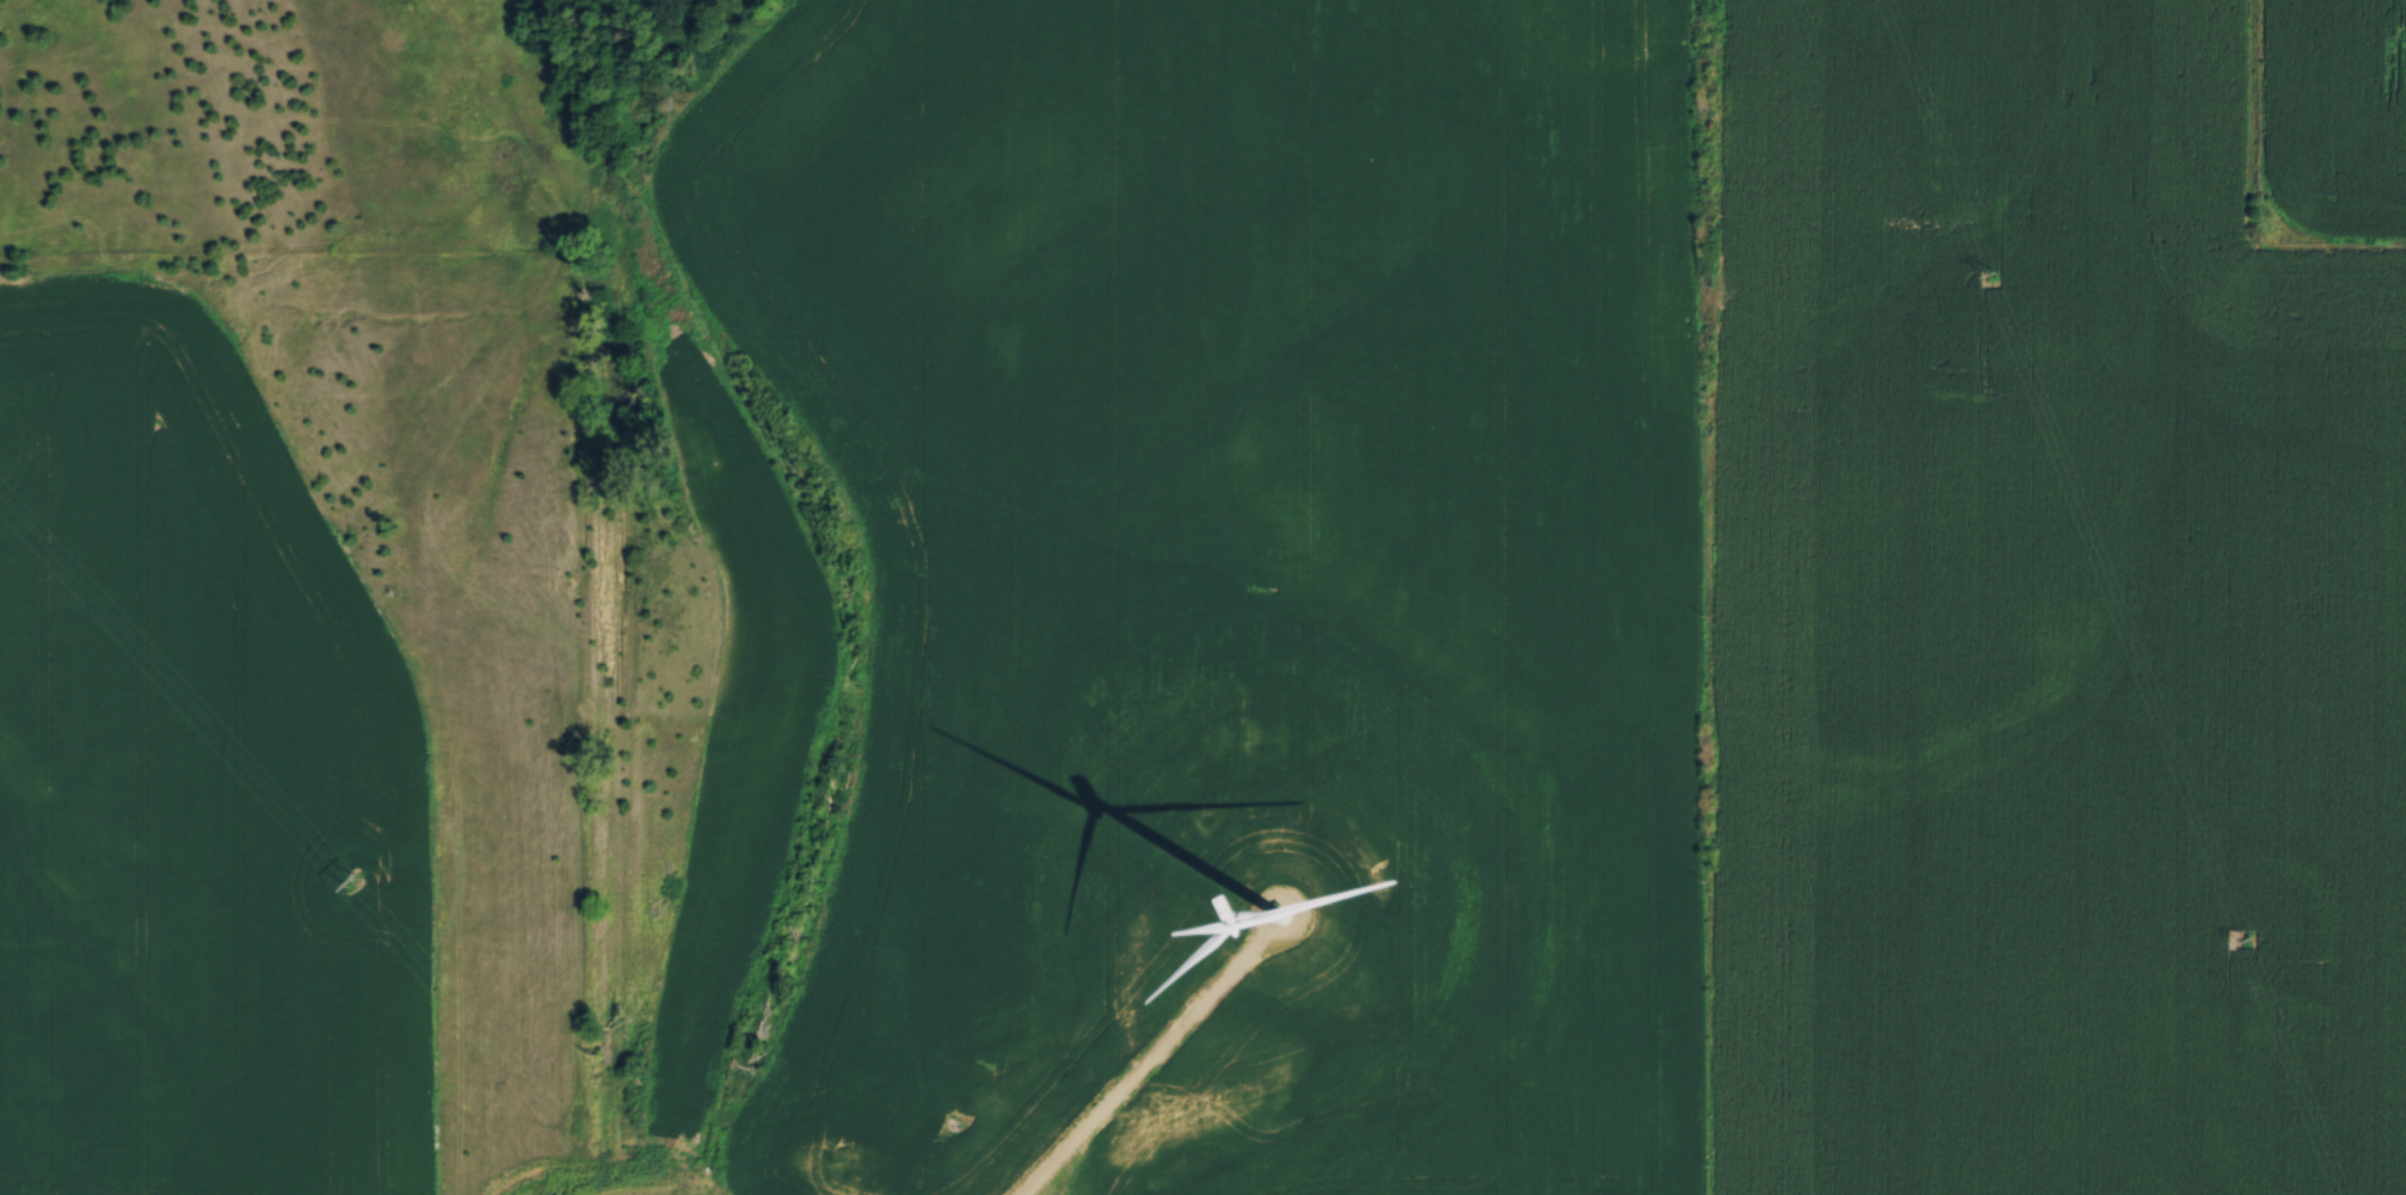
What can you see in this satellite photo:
power tower: (1994, 273)
power tower: (353, 879)
wind turbine: (1282, 917)
power tower: (2248, 943)

